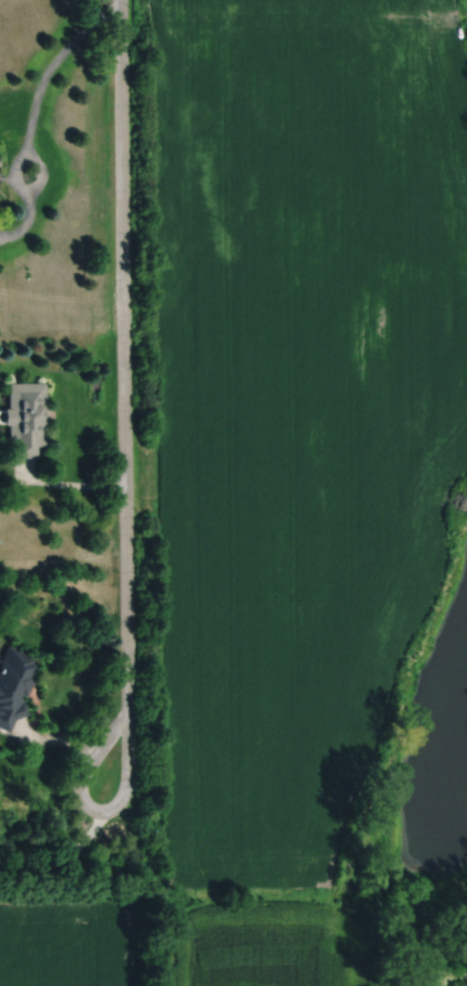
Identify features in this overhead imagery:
road: (459, 16)
road: (32, 116)
road: (41, 168)
road: (124, 353)
crop: (300, 406)
building: (25, 416)
road: (72, 484)
building: (13, 683)
road: (56, 740)
road: (95, 809)
road: (61, 857)
crop: (265, 944)
road: (429, 951)

